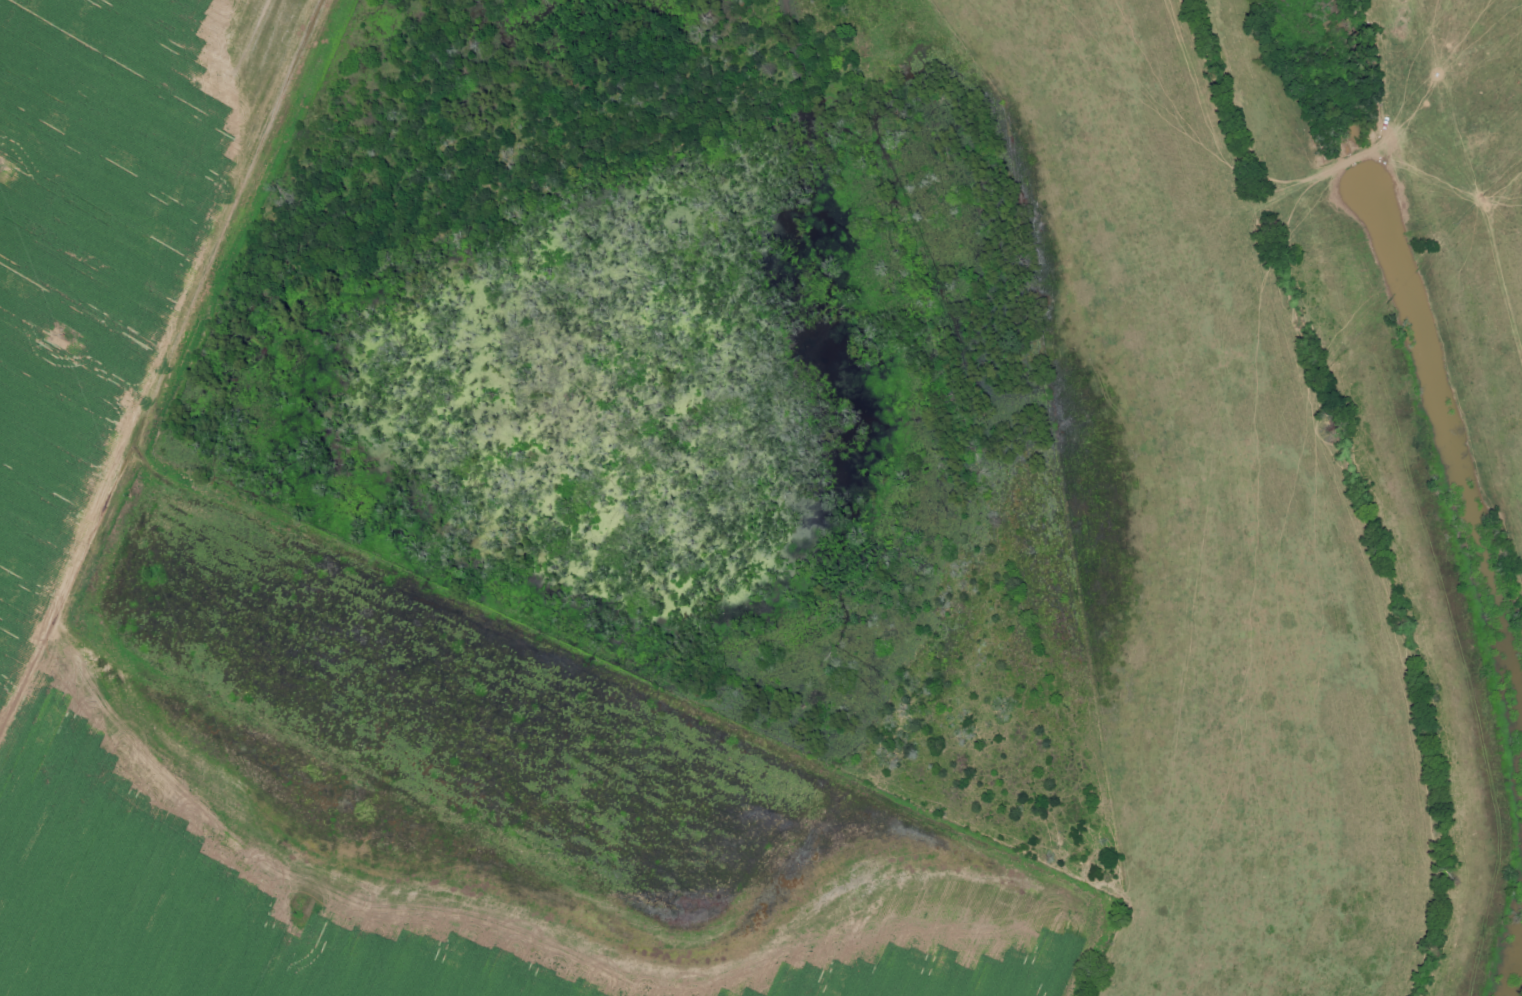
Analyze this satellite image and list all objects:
road: (1511, 216)

